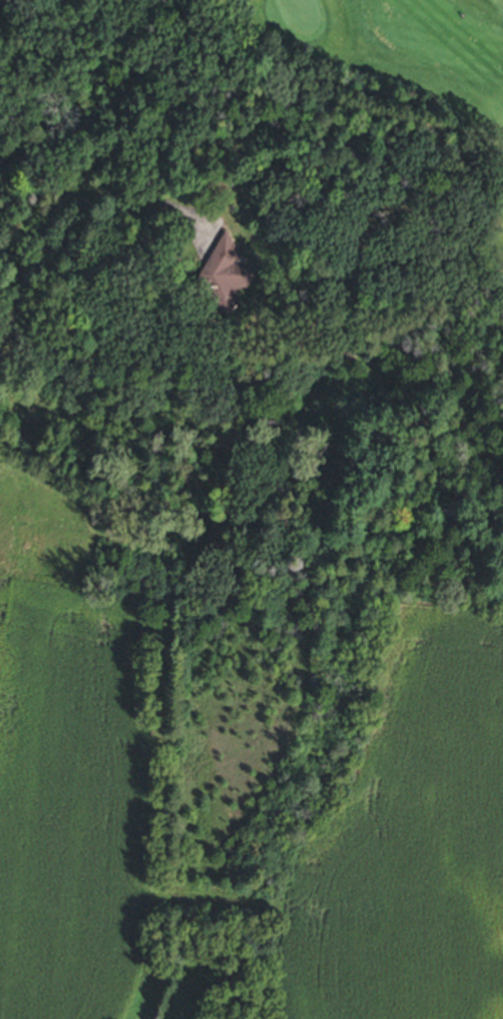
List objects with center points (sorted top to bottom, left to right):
park: (407, 85)
building: (223, 276)

